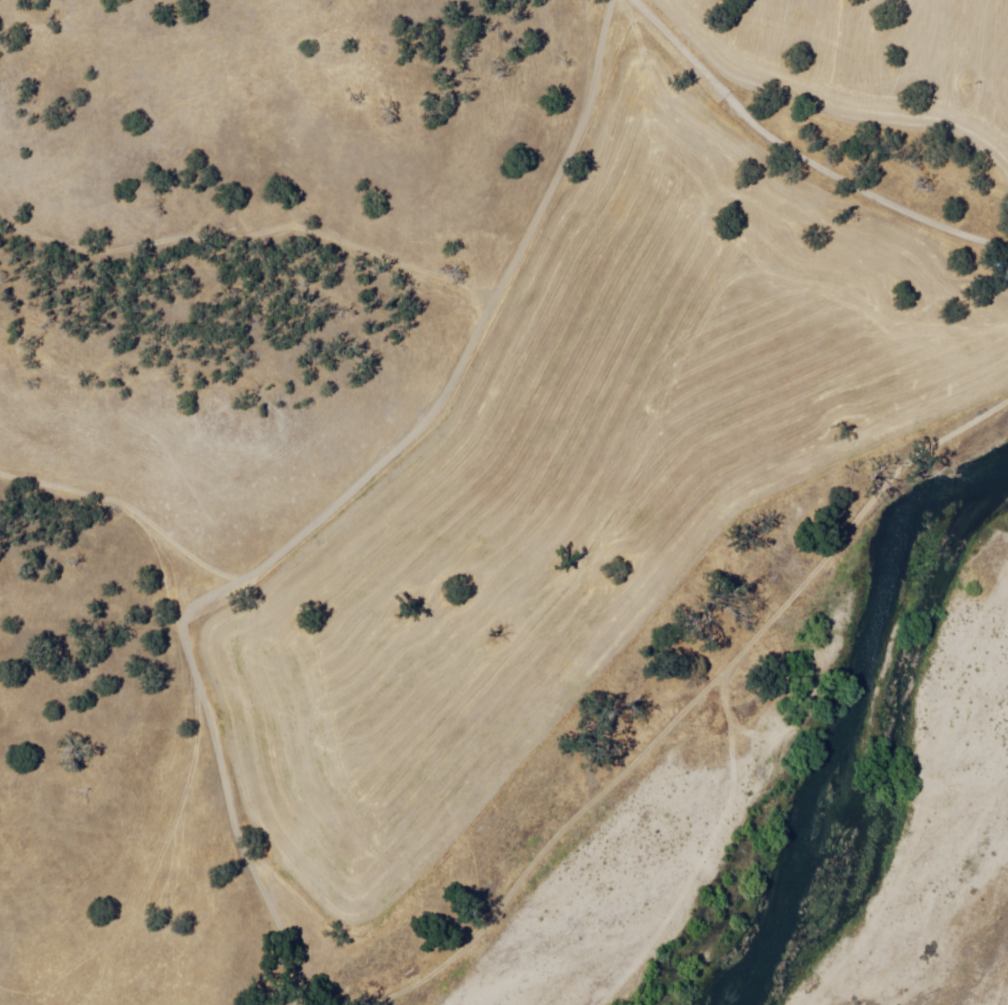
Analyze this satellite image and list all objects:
river: (948, 563)
river: (860, 699)
river: (749, 888)

